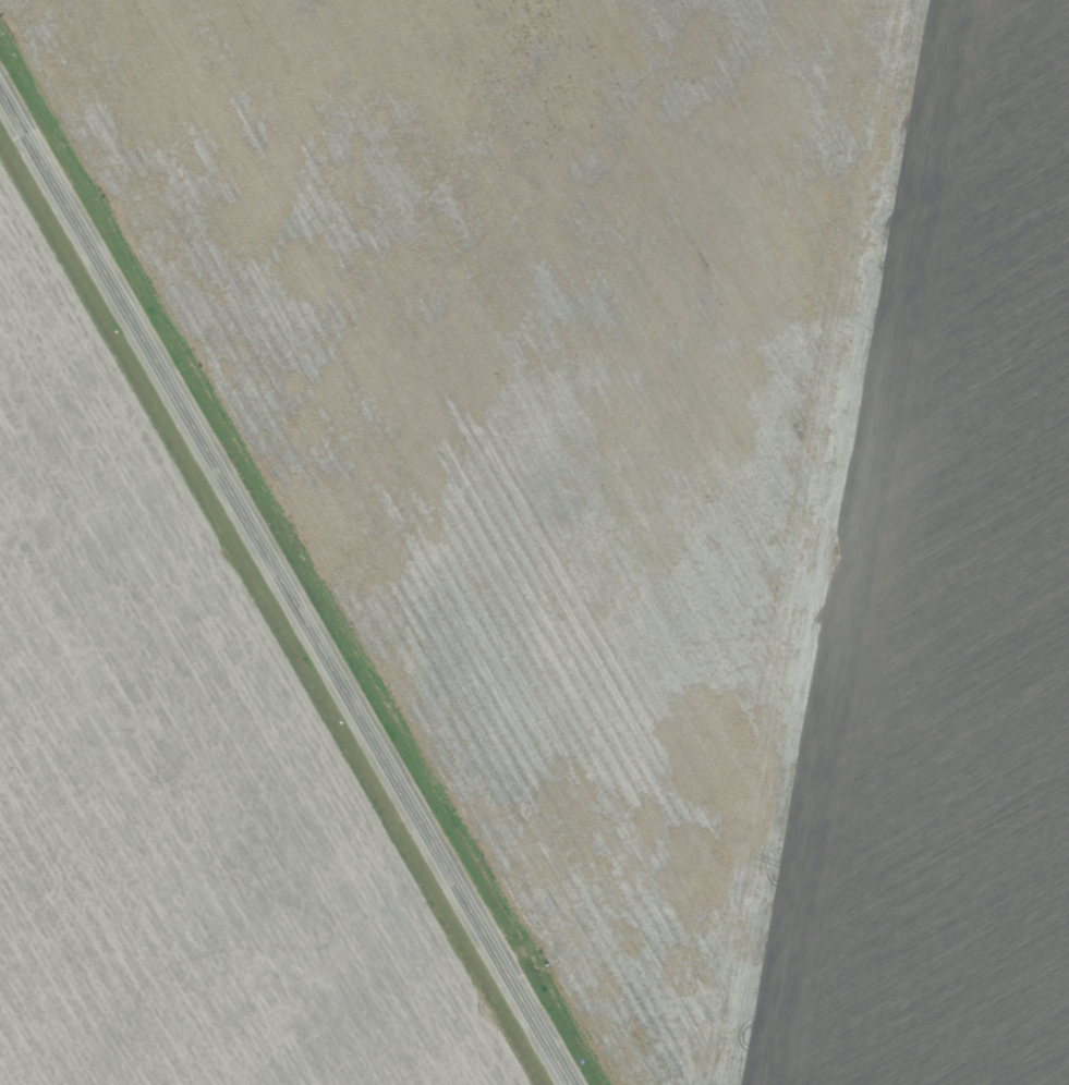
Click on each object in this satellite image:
road: (284, 588)

